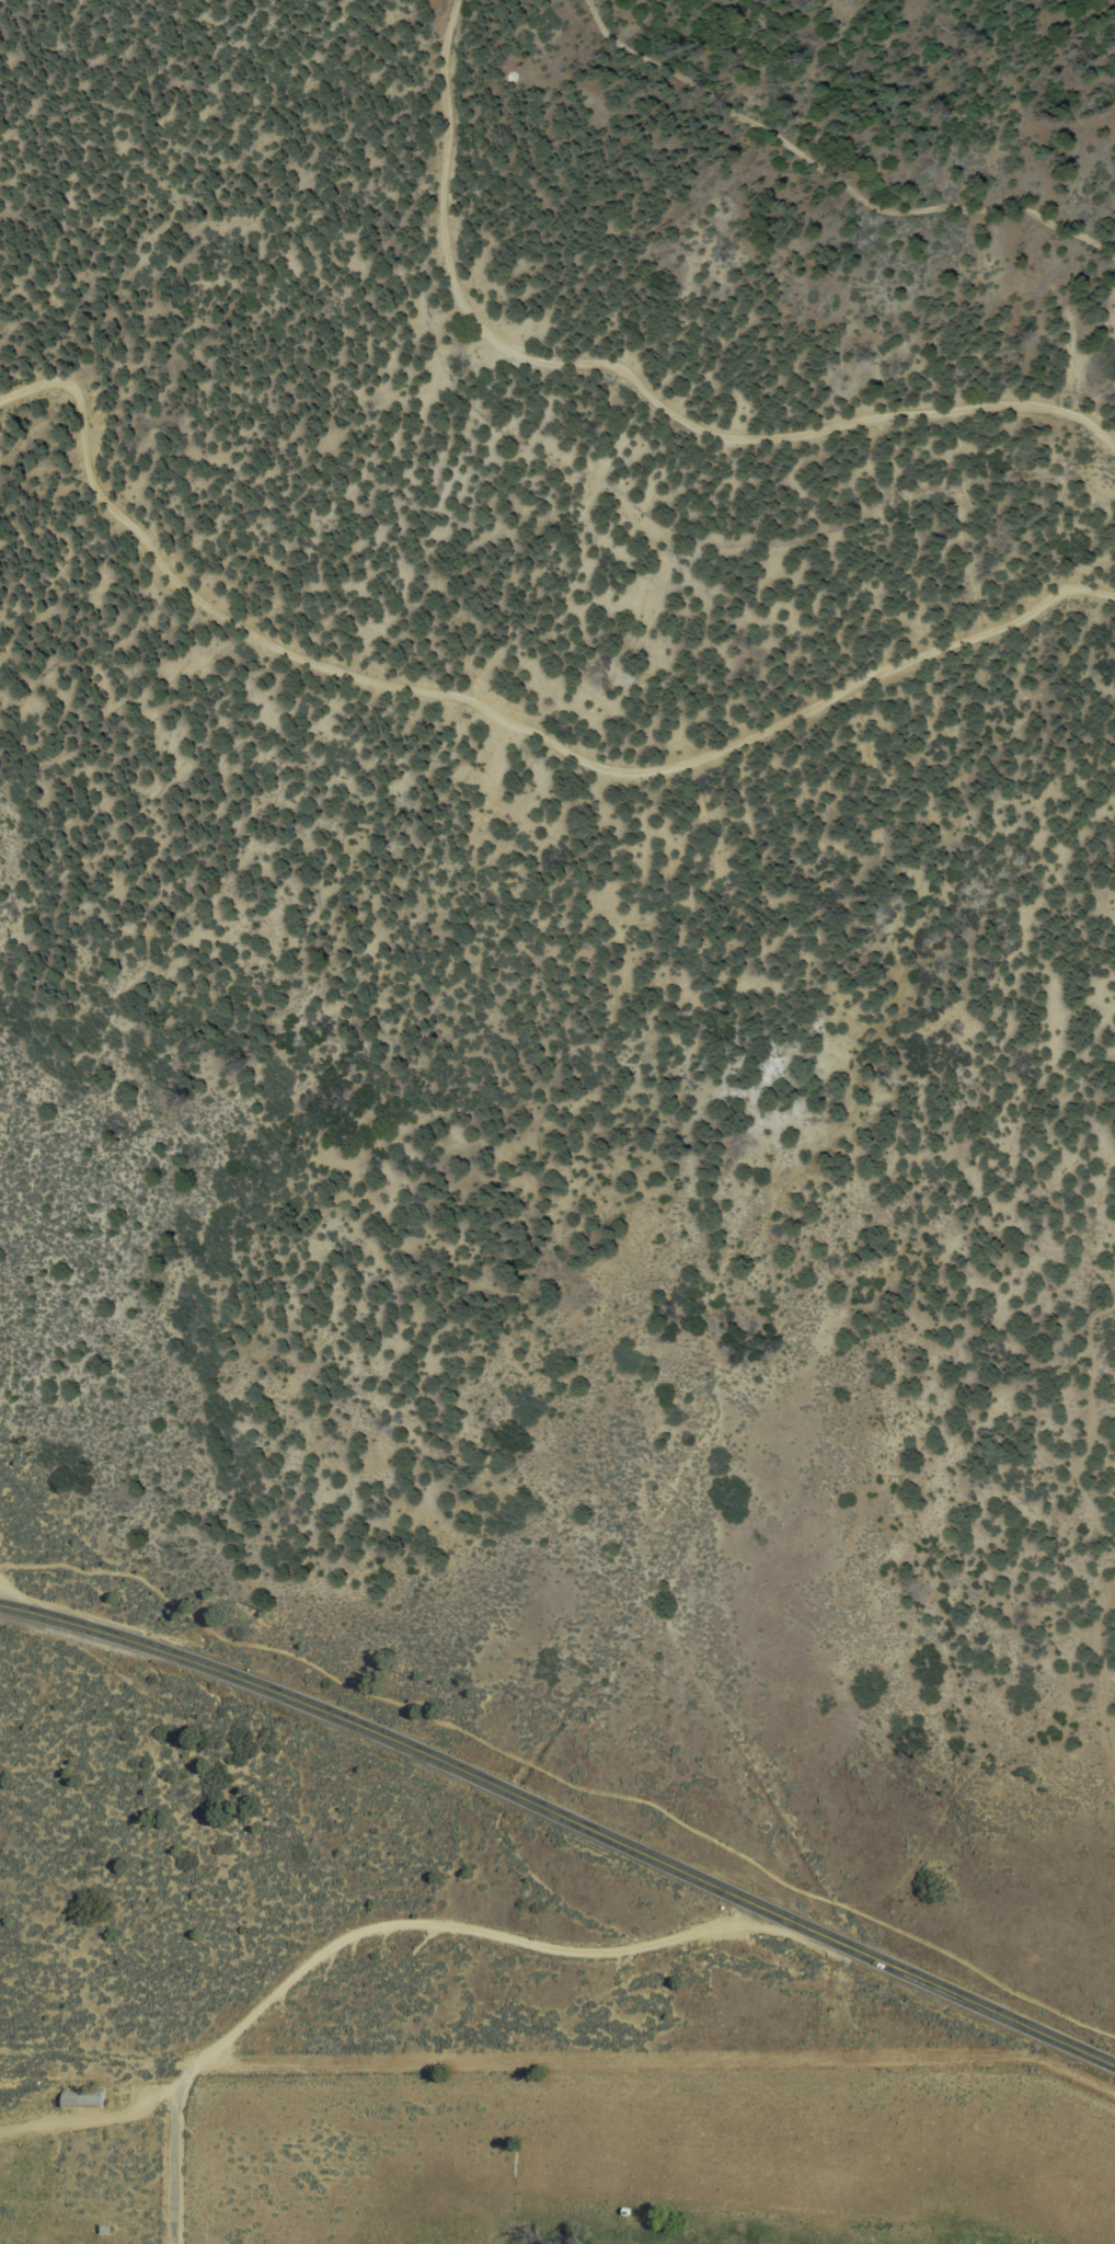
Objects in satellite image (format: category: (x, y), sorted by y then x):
road: (452, 94)
road: (832, 176)
road: (719, 431)
road: (501, 721)
road: (13, 1598)
road: (559, 1778)
road: (563, 1819)
road: (442, 1925)
building: (80, 2099)
road: (87, 2118)
road: (169, 2165)

